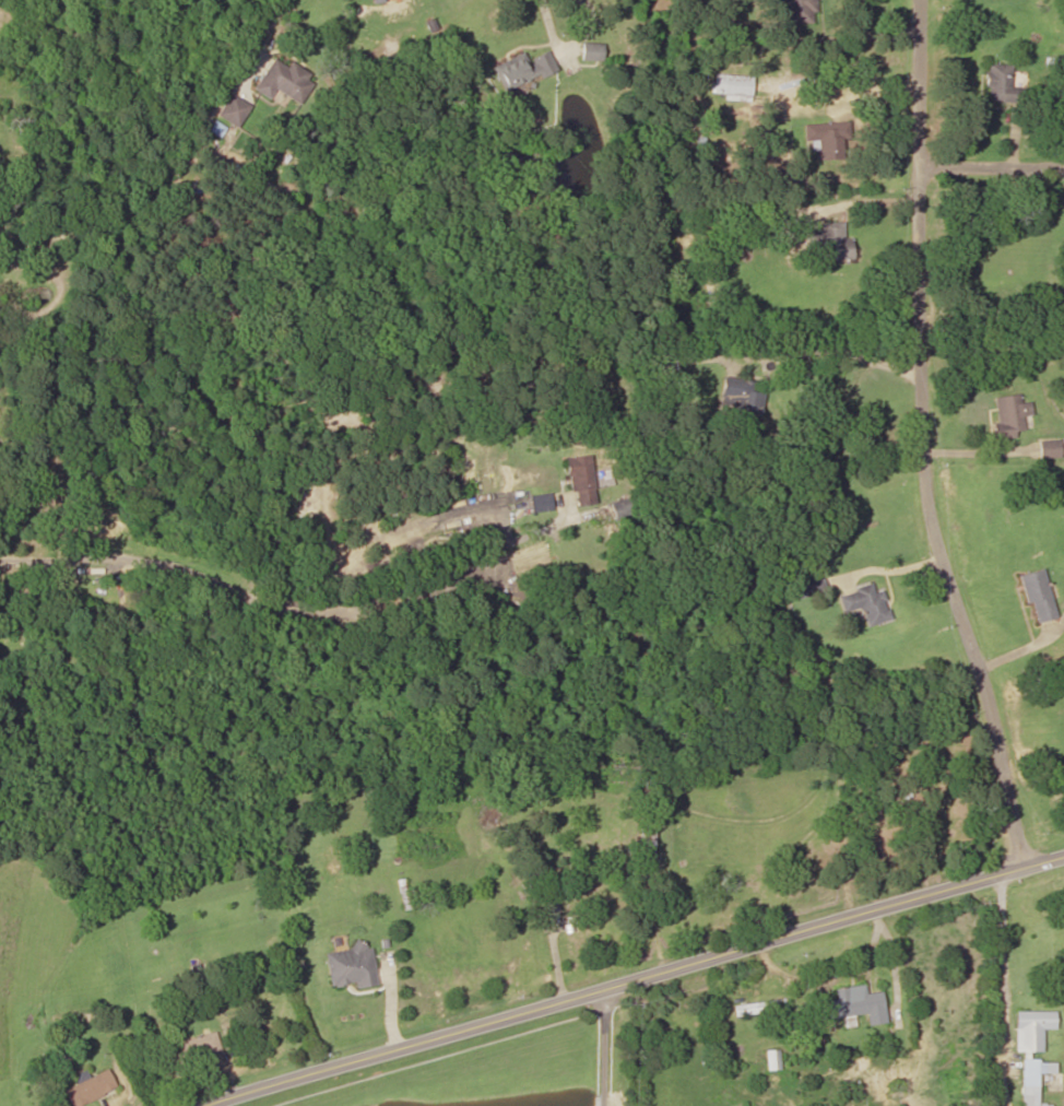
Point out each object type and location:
building: (799, 11)
building: (591, 50)
building: (521, 69)
building: (283, 80)
building: (1003, 84)
building: (233, 109)
building: (823, 139)
road: (986, 167)
building: (829, 242)
building: (741, 399)
building: (1009, 414)
road: (919, 439)
building: (1051, 447)
building: (580, 480)
building: (623, 509)
building: (1037, 593)
building: (866, 602)
building: (647, 834)
building: (549, 908)
building: (351, 966)
road: (625, 980)
building: (859, 1003)
building: (758, 1007)
building: (1031, 1027)
road: (617, 1044)
building: (199, 1046)
building: (771, 1059)
building: (1033, 1079)
building: (88, 1087)

